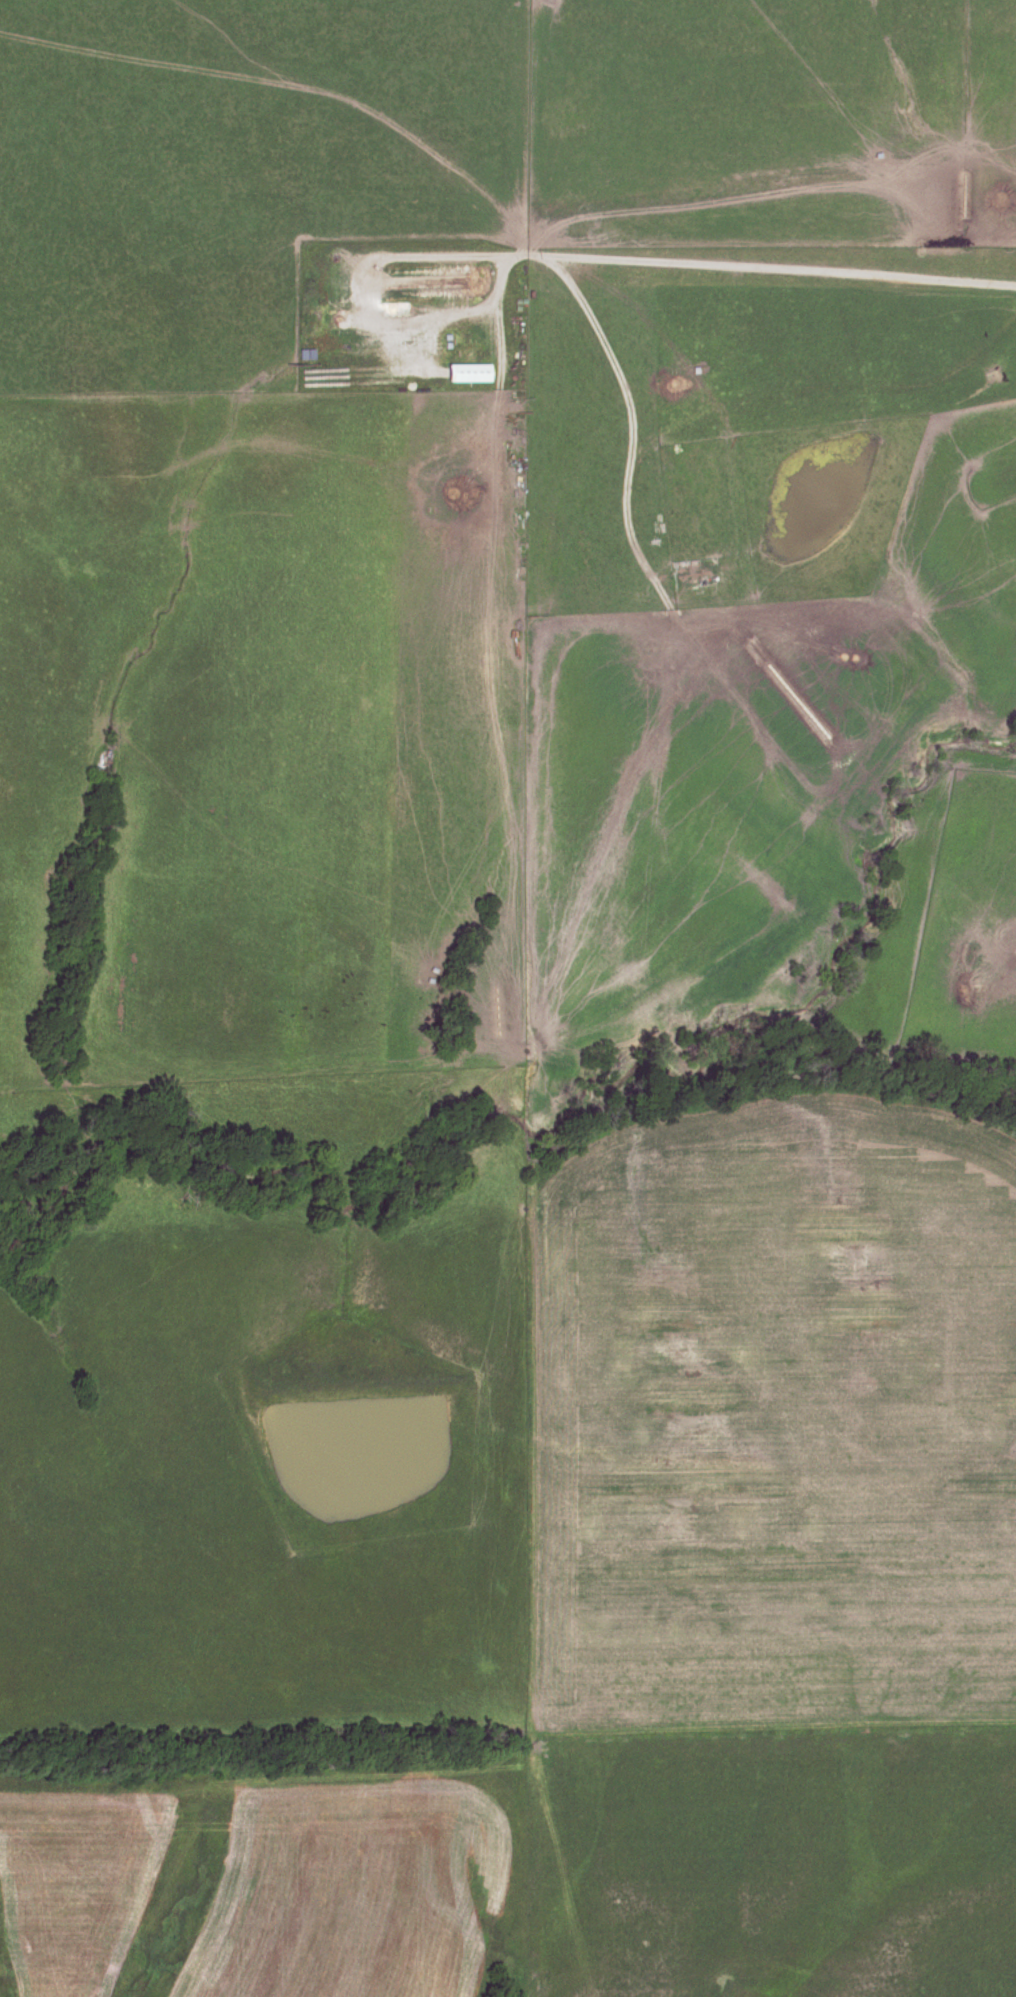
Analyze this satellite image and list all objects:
building: (466, 374)
building: (693, 573)
road: (842, 640)

